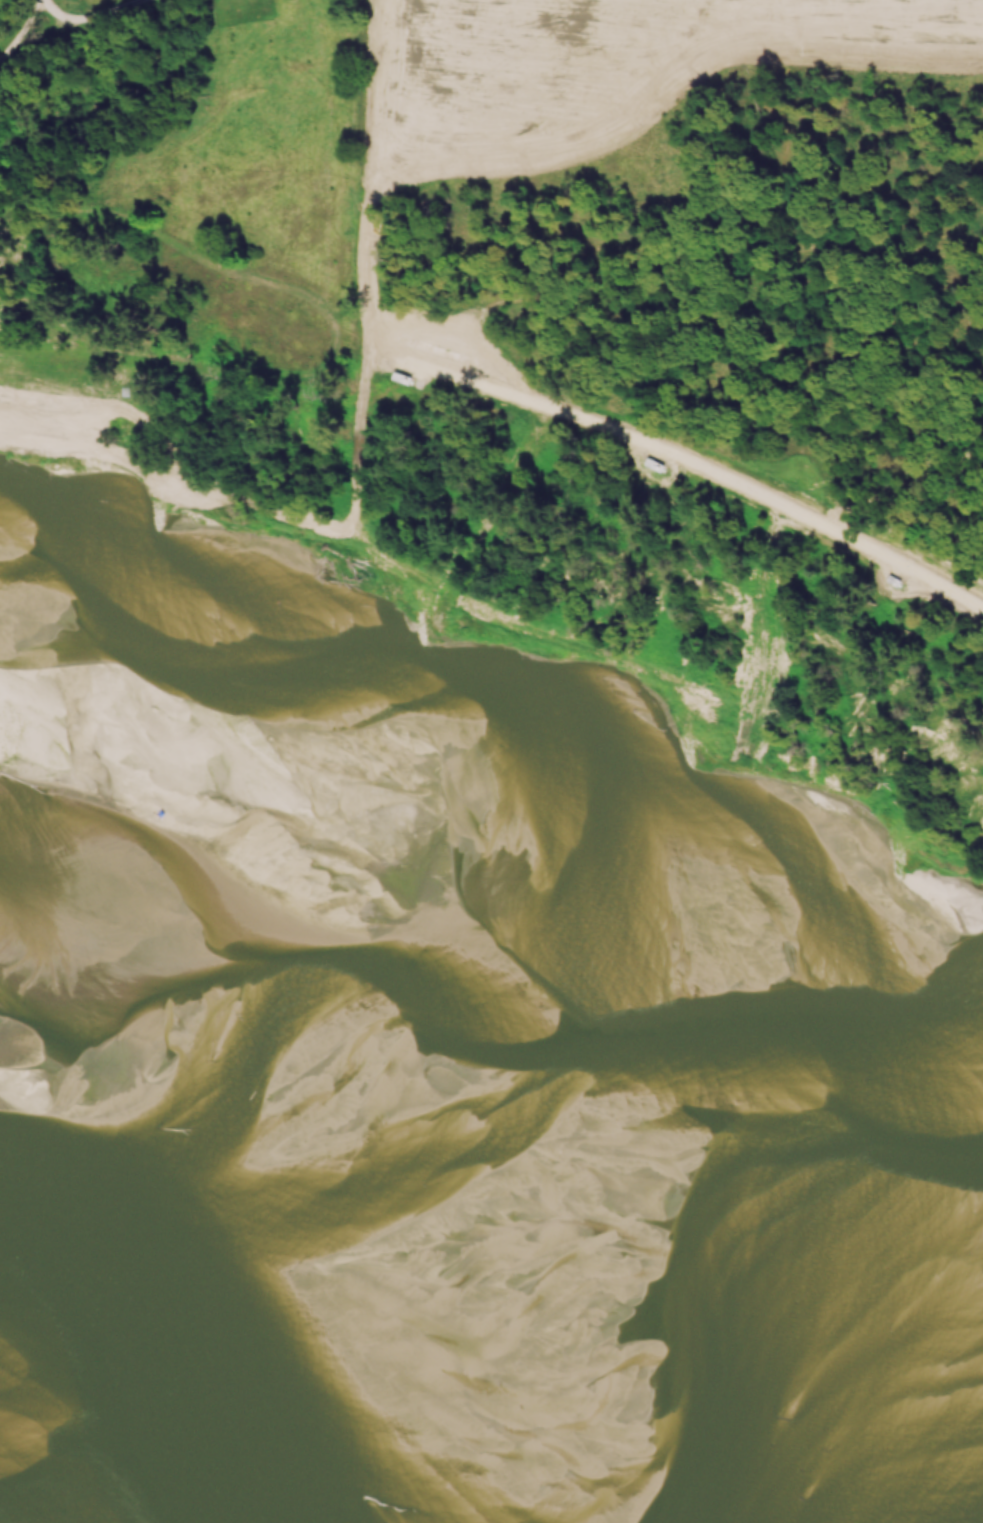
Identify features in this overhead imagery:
road: (92, 21)
road: (15, 25)
building: (406, 379)
building: (658, 466)
road: (742, 487)
river: (467, 1393)

